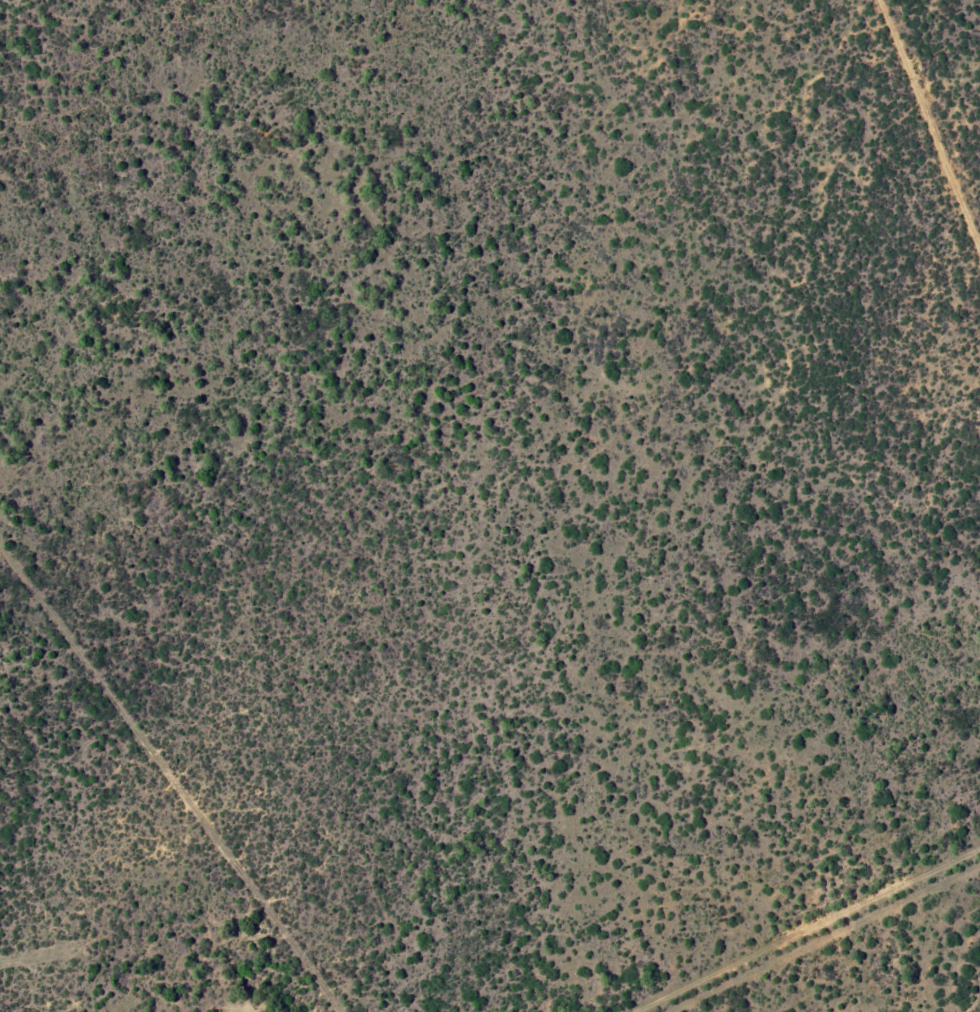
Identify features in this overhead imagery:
road: (840, 943)

